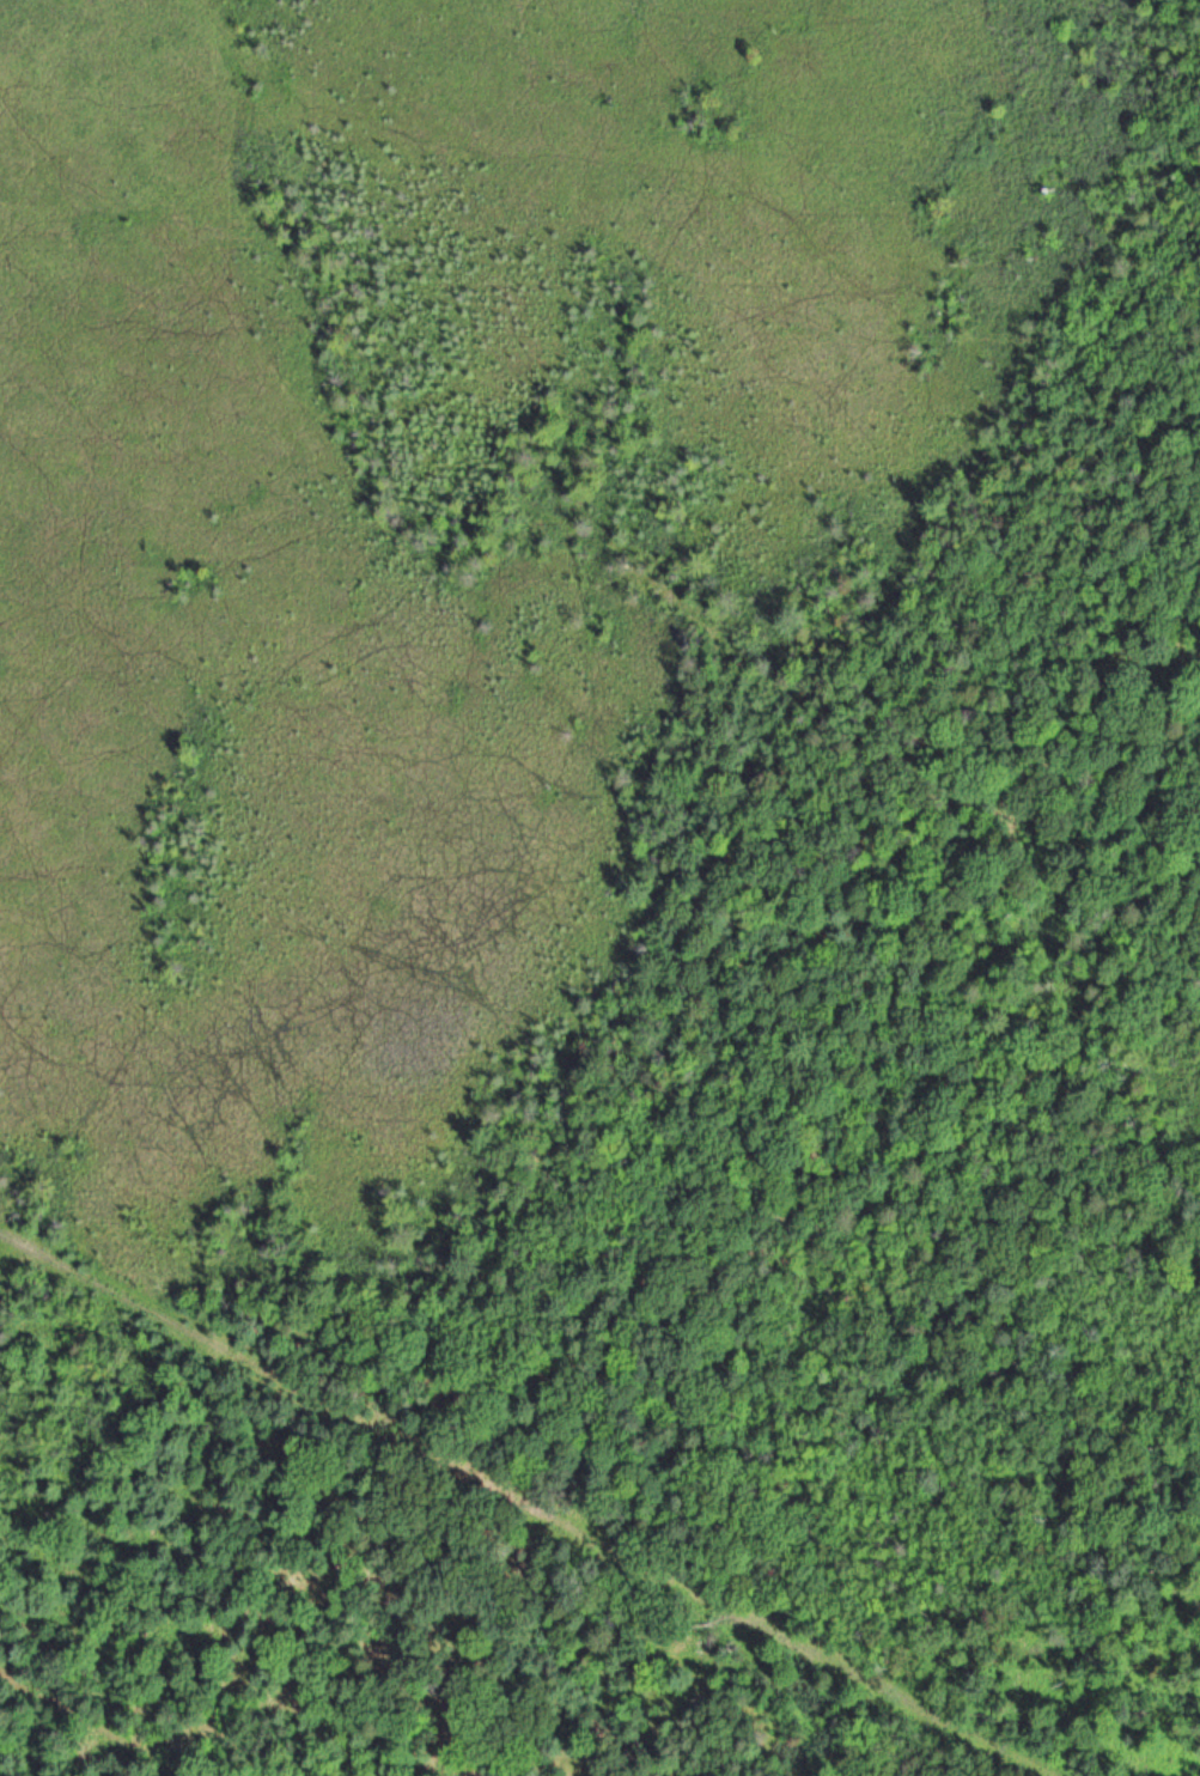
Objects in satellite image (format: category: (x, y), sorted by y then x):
railway: (524, 1503)

